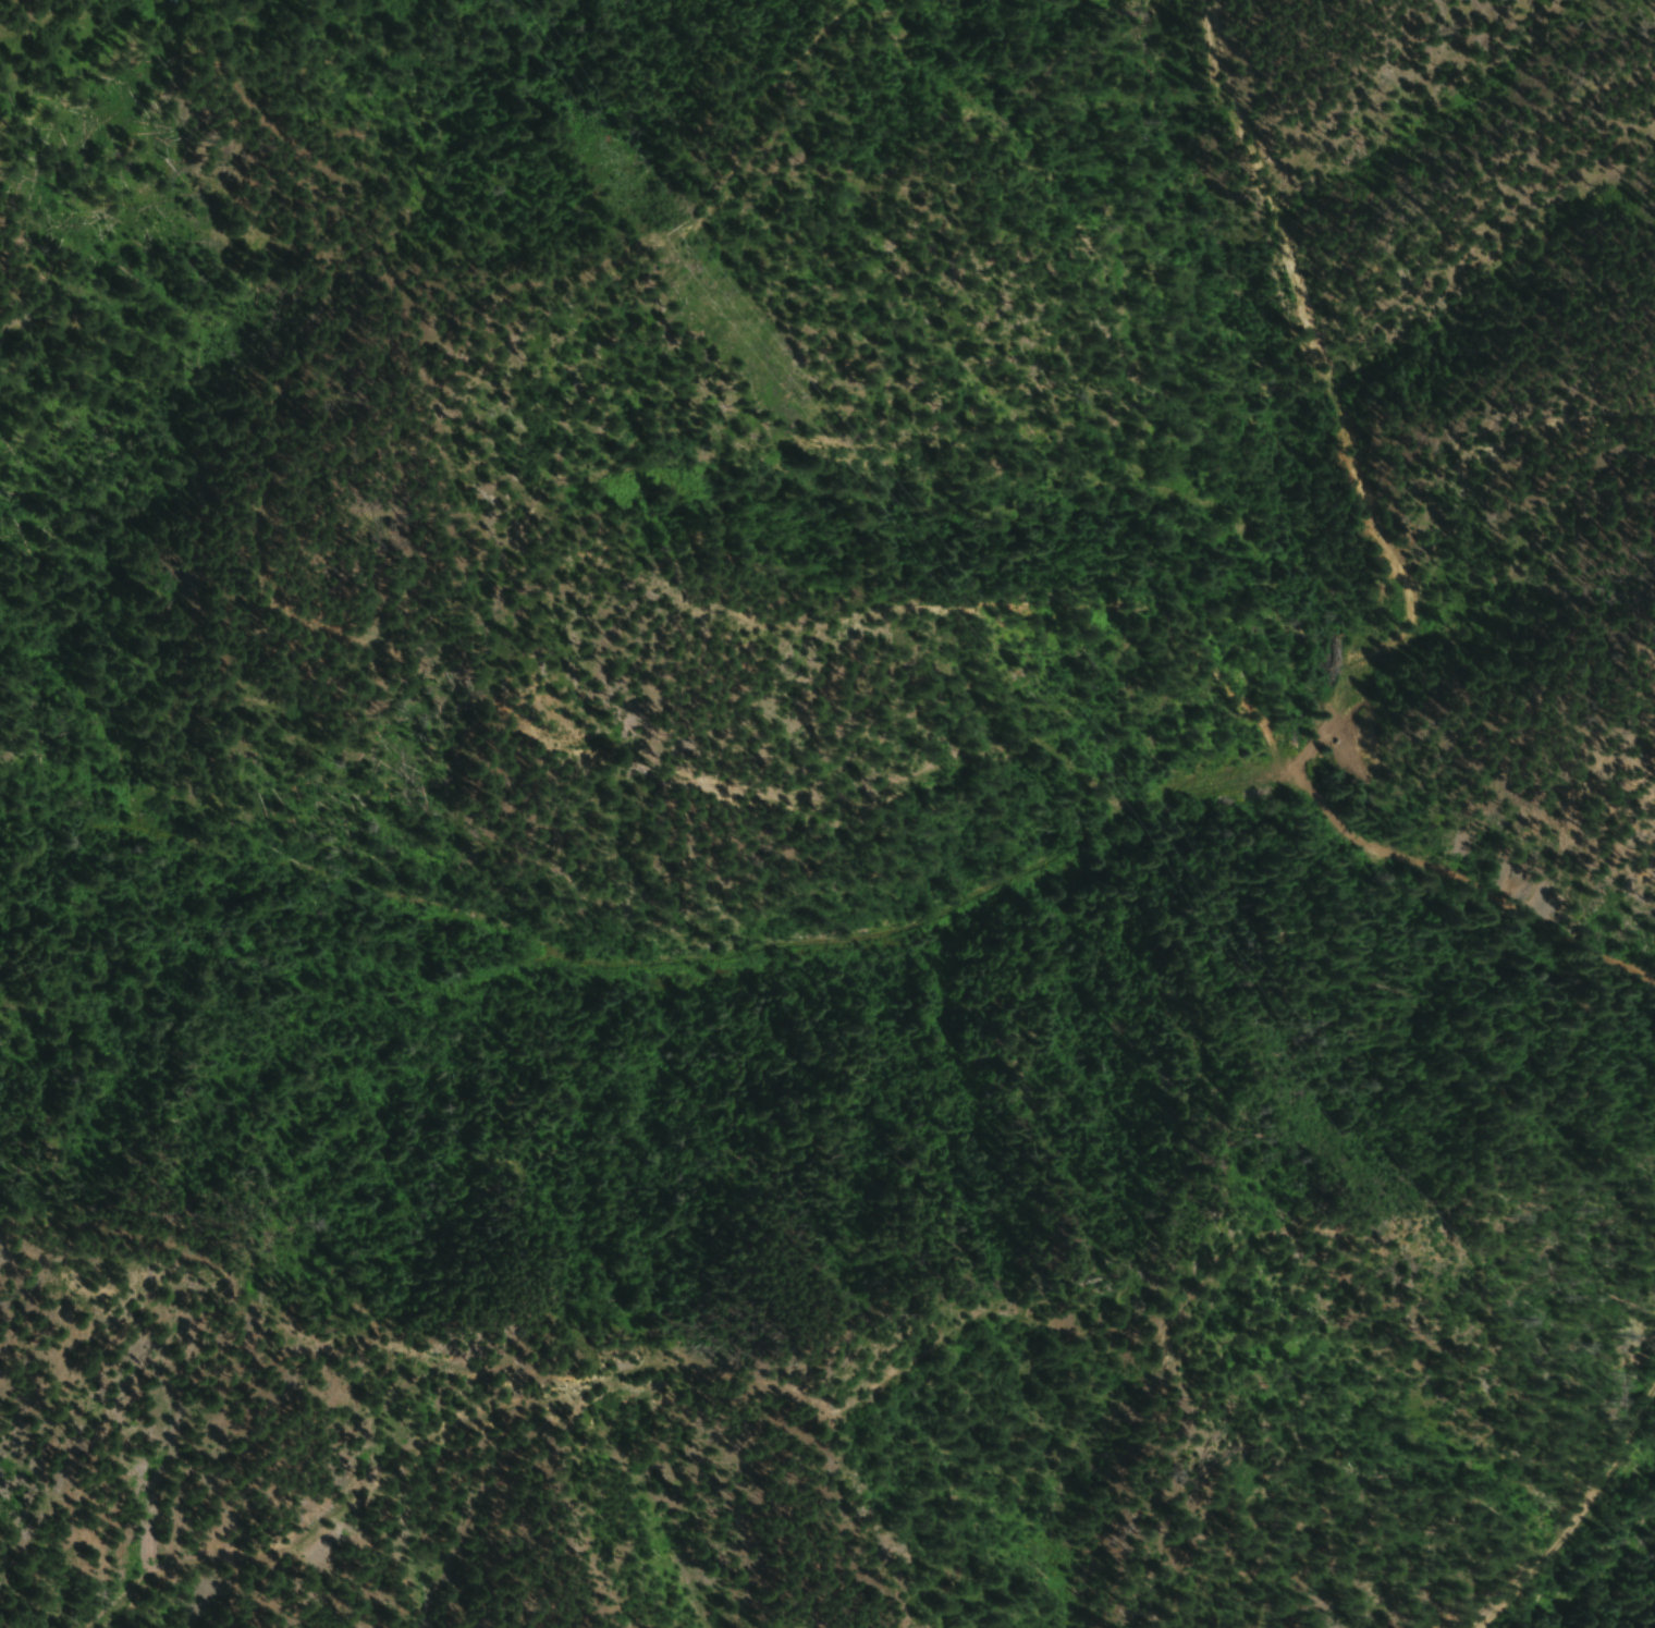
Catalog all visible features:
road: (1580, 1517)

